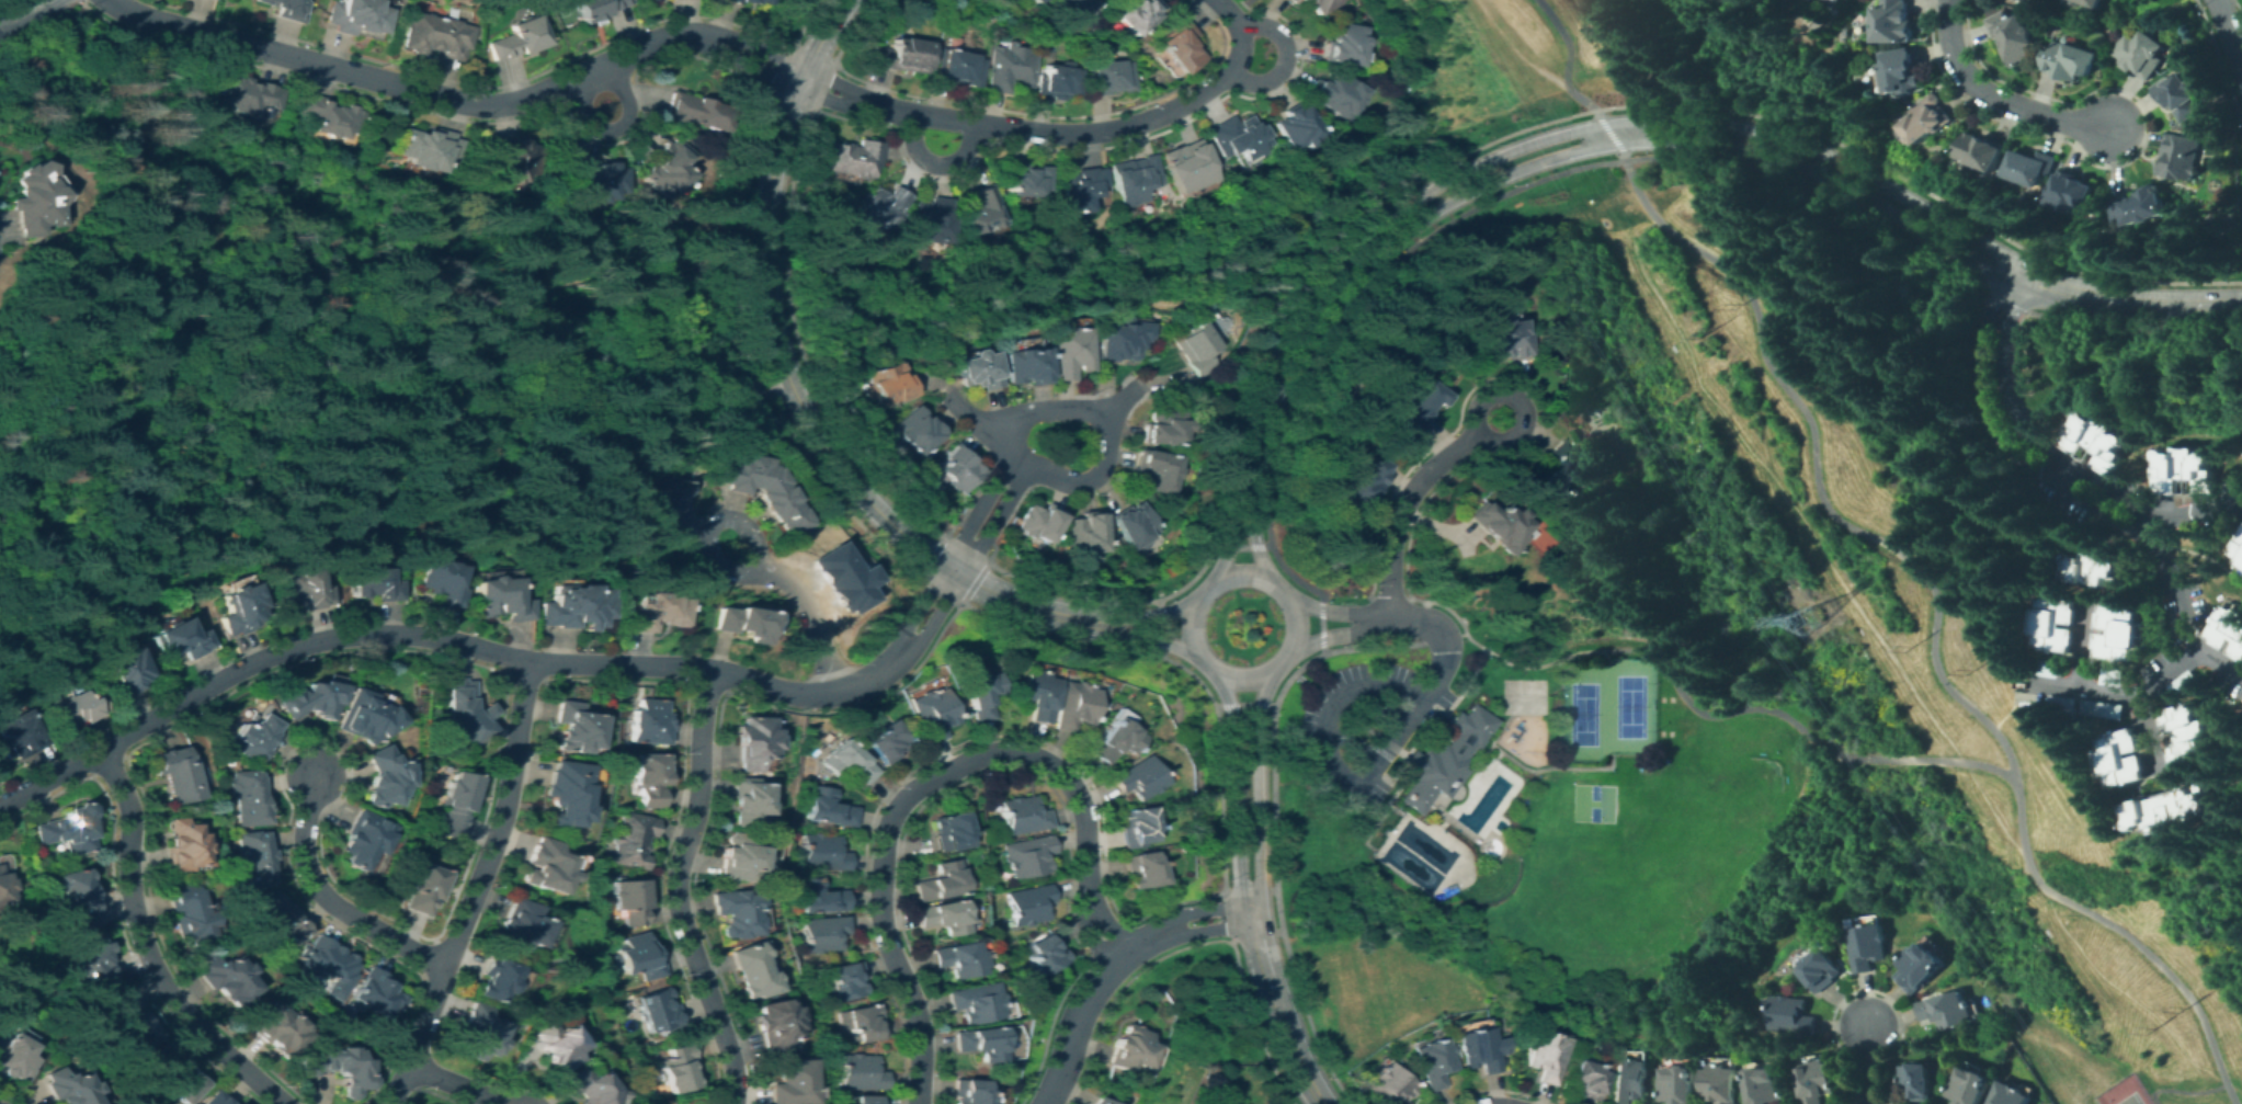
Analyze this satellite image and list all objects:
building: (1290, 0)
building: (1836, 0)
building: (746, 1)
building: (1026, 1)
building: (1031, 1)
building: (1295, 1)
building: (2091, 2)
road: (31, 3)
building: (1320, 4)
building: (1076, 5)
road: (1234, 5)
road: (45, 8)
building: (285, 8)
building: (594, 8)
building: (1130, 12)
building: (354, 15)
road: (14, 16)
building: (1894, 22)
building: (436, 36)
building: (2014, 37)
building: (515, 38)
road: (2229, 41)
building: (1179, 43)
building: (1342, 44)
road: (1514, 48)
building: (2142, 53)
building: (900, 55)
road: (1285, 59)
road: (1566, 60)
building: (2071, 60)
park: (1498, 64)
building: (956, 67)
building: (1009, 67)
building: (1902, 69)
building: (1109, 76)
building: (1058, 80)
road: (109, 84)
building: (1334, 93)
road: (2001, 95)
building: (2178, 95)
building: (249, 96)
road: (457, 102)
building: (695, 111)
building: (330, 116)
building: (1927, 119)
building: (1297, 127)
road: (615, 129)
road: (1609, 133)
road: (1061, 134)
building: (1239, 137)
building: (432, 148)
building: (1982, 151)
road: (1499, 152)
building: (2182, 156)
building: (854, 157)
road: (179, 158)
building: (513, 160)
road: (937, 163)
building: (1187, 166)
building: (668, 168)
building: (2033, 168)
building: (591, 178)
building: (1027, 179)
building: (1135, 179)
building: (1080, 189)
building: (2073, 192)
building: (34, 200)
road: (214, 204)
building: (2142, 206)
building: (879, 209)
building: (982, 210)
road: (1886, 213)
building: (932, 220)
road: (1398, 236)
road: (255, 243)
road: (556, 292)
road: (989, 295)
road: (2118, 299)
power tower: (1737, 305)
power tower: (1707, 331)
road: (122, 332)
building: (1122, 339)
building: (1501, 340)
building: (1196, 346)
building: (1070, 351)
road: (183, 353)
building: (1025, 365)
building: (979, 368)
road: (110, 371)
road: (136, 372)
building: (891, 383)
building: (755, 386)
road: (798, 392)
road: (1117, 401)
road: (421, 403)
building: (1416, 403)
road: (1522, 406)
road: (1762, 420)
road: (974, 421)
road: (1104, 426)
building: (1164, 426)
road: (2023, 428)
building: (918, 430)
road: (2000, 434)
building: (2096, 442)
building: (956, 468)
building: (1156, 470)
building: (1558, 473)
building: (2186, 473)
road: (148, 477)
building: (1362, 479)
building: (764, 489)
building: (2234, 490)
building: (668, 504)
road: (1400, 509)
road: (2194, 509)
road: (977, 510)
road: (994, 521)
road: (1802, 522)
building: (1039, 523)
building: (1494, 524)
building: (1135, 525)
building: (1086, 533)
building: (2241, 537)
road: (1239, 546)
building: (2240, 551)
building: (2241, 566)
building: (2096, 568)
building: (839, 576)
building: (441, 580)
building: (373, 584)
building: (306, 587)
building: (499, 599)
road: (800, 601)
road: (1297, 601)
road: (920, 602)
road: (1177, 605)
building: (240, 607)
building: (578, 607)
building: (656, 611)
road: (1341, 612)
road: (936, 614)
road: (1137, 616)
road: (1416, 619)
power tower: (1811, 619)
building: (747, 621)
road: (1373, 621)
road: (1934, 621)
road: (1290, 624)
road: (1319, 624)
building: (2053, 624)
road: (1188, 625)
road: (1157, 626)
building: (2229, 628)
building: (2122, 634)
road: (1324, 636)
road: (1135, 637)
park: (1867, 637)
road: (441, 638)
building: (180, 639)
road: (2084, 646)
road: (1179, 649)
power tower: (1907, 649)
road: (2221, 659)
road: (2183, 661)
building: (2047, 668)
building: (124, 671)
power tower: (1968, 671)
building: (2114, 676)
building: (2187, 683)
building: (1035, 694)
building: (978, 695)
park: (1521, 695)
road: (1685, 697)
building: (311, 699)
road: (1329, 702)
road: (2013, 704)
building: (2064, 704)
building: (1072, 705)
road: (1243, 705)
park: (1630, 705)
building: (1106, 706)
building: (72, 709)
building: (2104, 709)
building: (466, 710)
building: (931, 713)
park: (1582, 713)
road: (1408, 714)
park: (1661, 715)
park: (1670, 715)
building: (365, 716)
building: (649, 721)
building: (573, 728)
road: (2150, 730)
building: (1094, 731)
building: (16, 735)
building: (253, 735)
building: (2189, 735)
building: (753, 741)
building: (885, 741)
building: (1113, 741)
building: (1438, 758)
building: (2121, 759)
building: (846, 761)
building: (175, 774)
building: (384, 777)
building: (649, 778)
building: (1137, 778)
road: (923, 779)
road: (1254, 789)
road: (1234, 790)
park: (1592, 792)
building: (564, 793)
building: (248, 798)
park: (1731, 800)
building: (749, 801)
building: (457, 804)
building: (829, 808)
building: (2170, 808)
park: (1592, 812)
building: (1024, 815)
road: (500, 816)
building: (1135, 827)
building: (69, 829)
building: (951, 831)
building: (803, 833)
building: (363, 840)
building: (634, 840)
building: (181, 846)
building: (826, 853)
building: (1027, 855)
building: (741, 857)
building: (253, 858)
building: (543, 866)
building: (1140, 869)
building: (940, 881)
building: (424, 887)
road: (675, 888)
building: (3, 889)
building: (822, 897)
building: (78, 898)
road: (327, 899)
building: (630, 900)
building: (1029, 903)
building: (739, 912)
building: (190, 914)
building: (943, 917)
building: (280, 919)
building: (517, 925)
building: (827, 933)
building: (1867, 946)
road: (144, 951)
building: (1046, 953)
road: (1261, 955)
building: (640, 957)
building: (959, 958)
building: (94, 961)
building: (328, 965)
road: (1107, 965)
building: (1920, 967)
building: (753, 970)
building: (1821, 970)
building: (227, 978)
building: (494, 979)
building: (847, 980)
building: (376, 993)
road: (2129, 999)
building: (975, 1002)
power tower: (2180, 1008)
building: (1947, 1010)
building: (660, 1012)
road: (424, 1014)
building: (1791, 1015)
building: (130, 1021)
building: (863, 1022)
building: (774, 1025)
building: (281, 1031)
power tower: (2148, 1031)
building: (479, 1033)
building: (980, 1043)
building: (555, 1046)
building: (1130, 1048)
building: (1478, 1049)
road: (1290, 1051)
building: (1546, 1056)
building: (13, 1057)
building: (1434, 1062)
road: (1870, 1065)
building: (679, 1068)
building: (341, 1069)
building: (862, 1072)
building: (175, 1074)
building: (1919, 1079)
building: (1585, 1080)
building: (1629, 1080)
building: (1819, 1080)
road: (451, 1082)
building: (790, 1083)
building: (1722, 1083)
road: (394, 1084)
building: (587, 1085)
building: (1389, 1085)
building: (1680, 1085)
building: (1767, 1085)
building: (1970, 1086)
building: (65, 1088)
building: (969, 1091)
road: (2188, 1091)
building: (2010, 1094)
building: (214, 1099)
park: (2129, 1099)
building: (867, 1100)
building: (1099, 1101)

